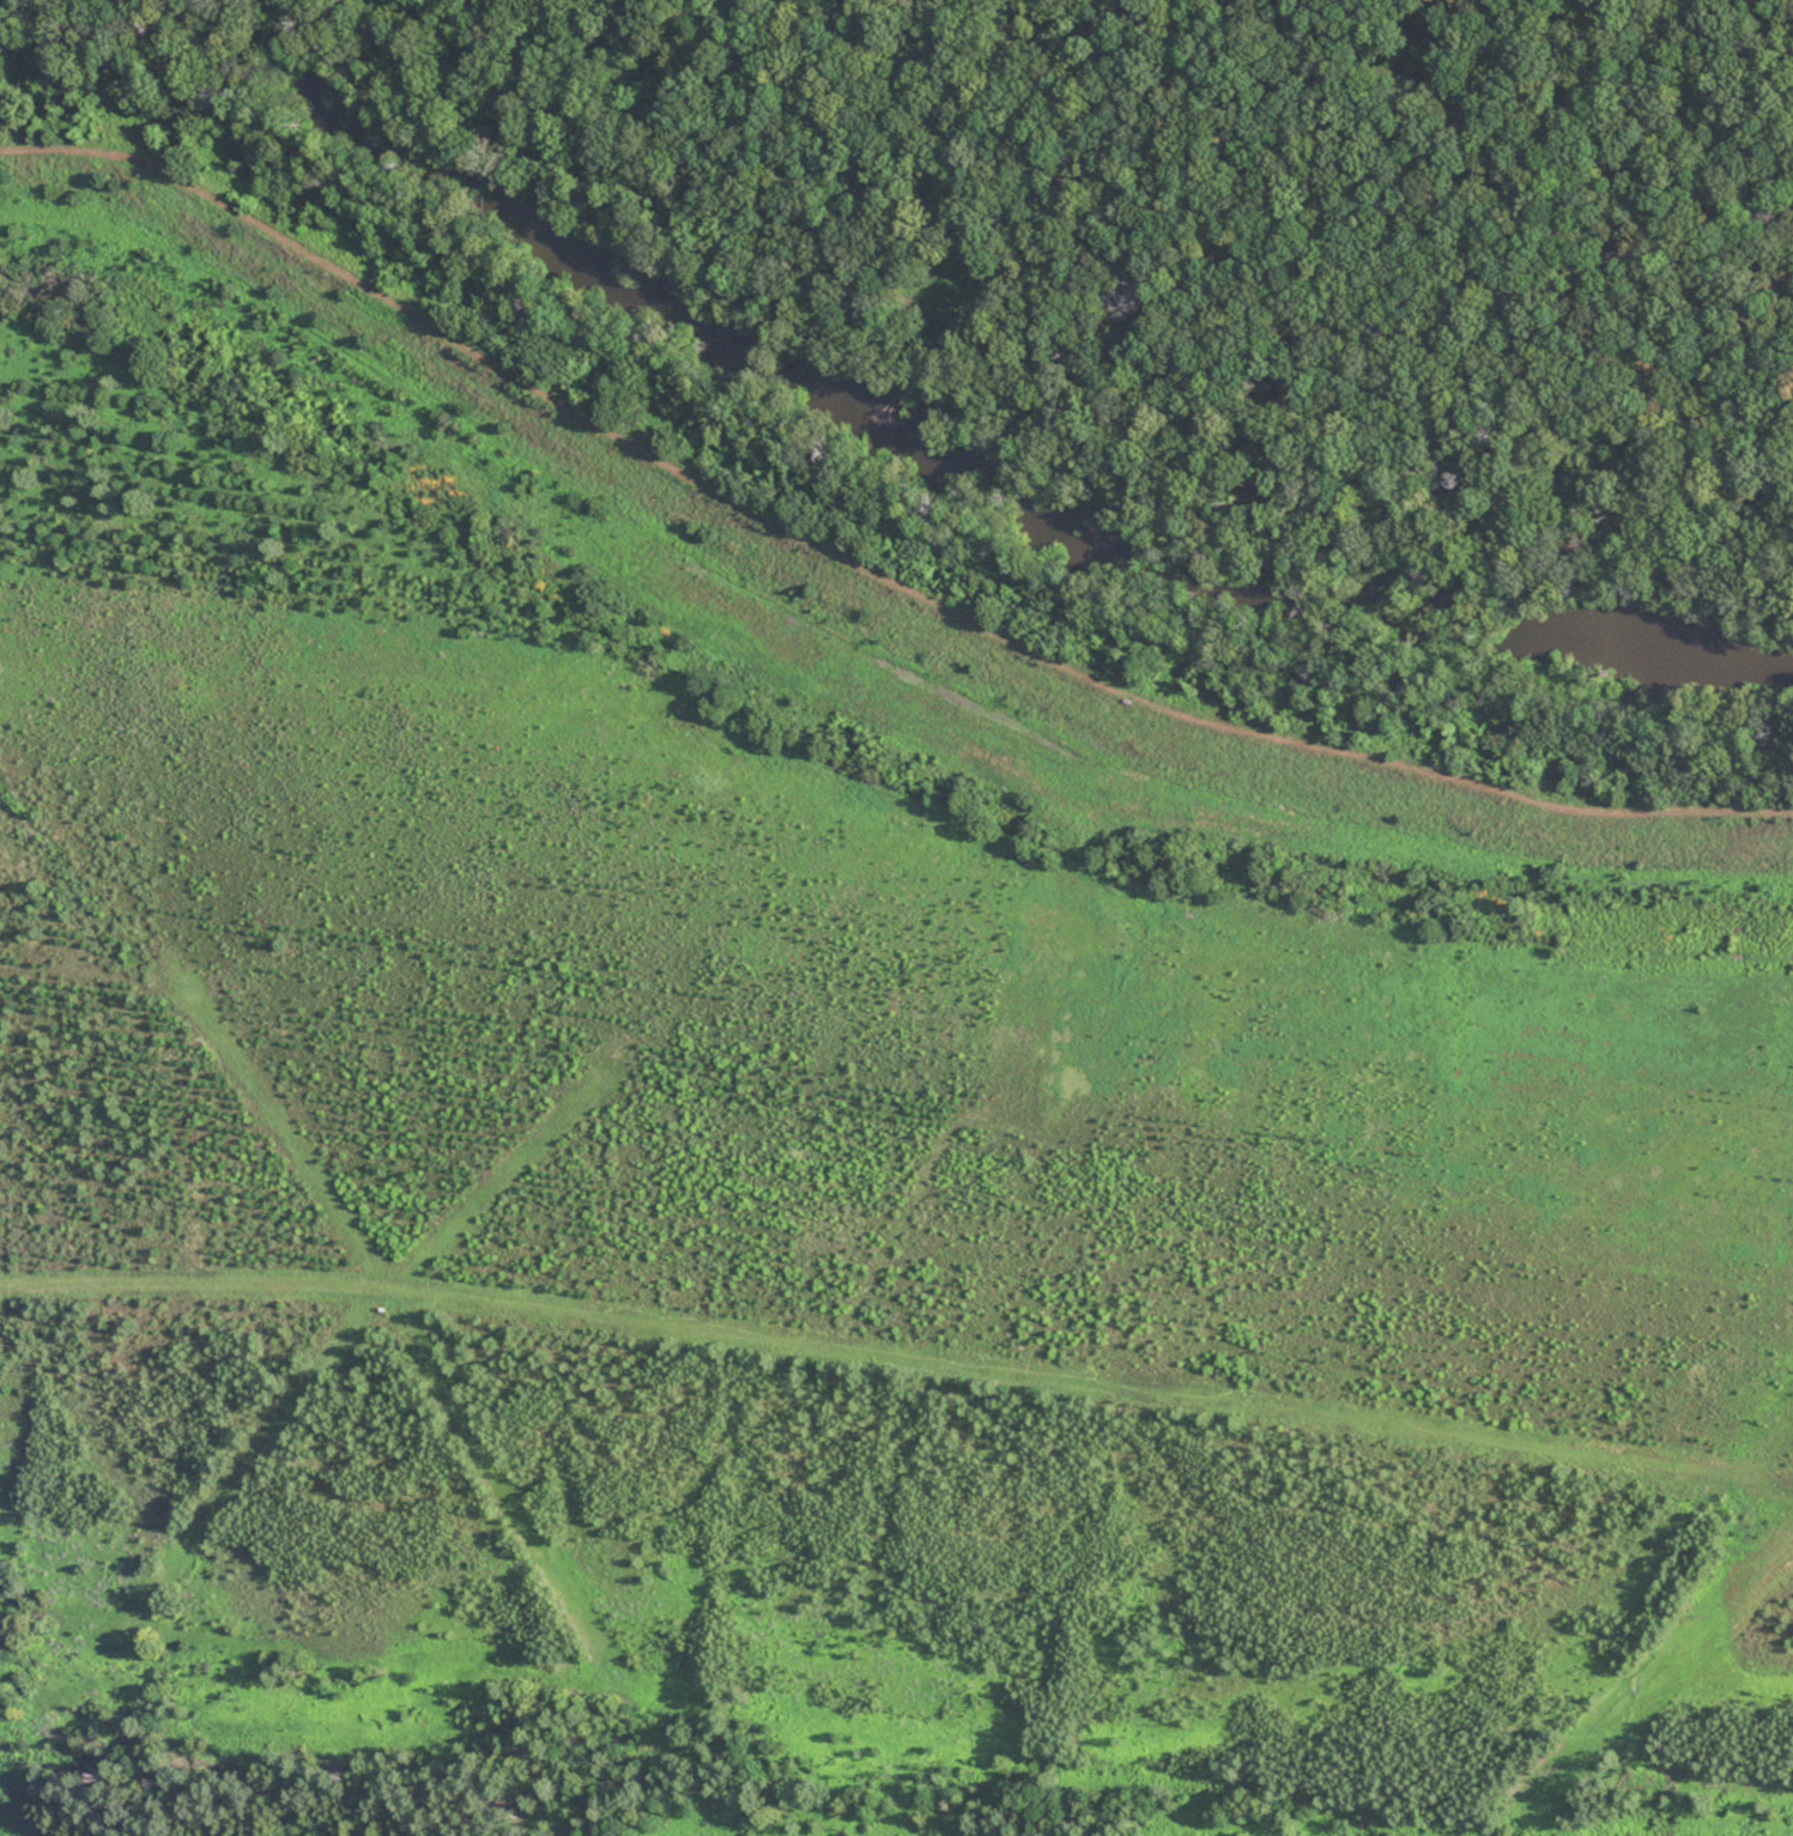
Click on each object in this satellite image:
road: (868, 559)
road: (983, 1228)

